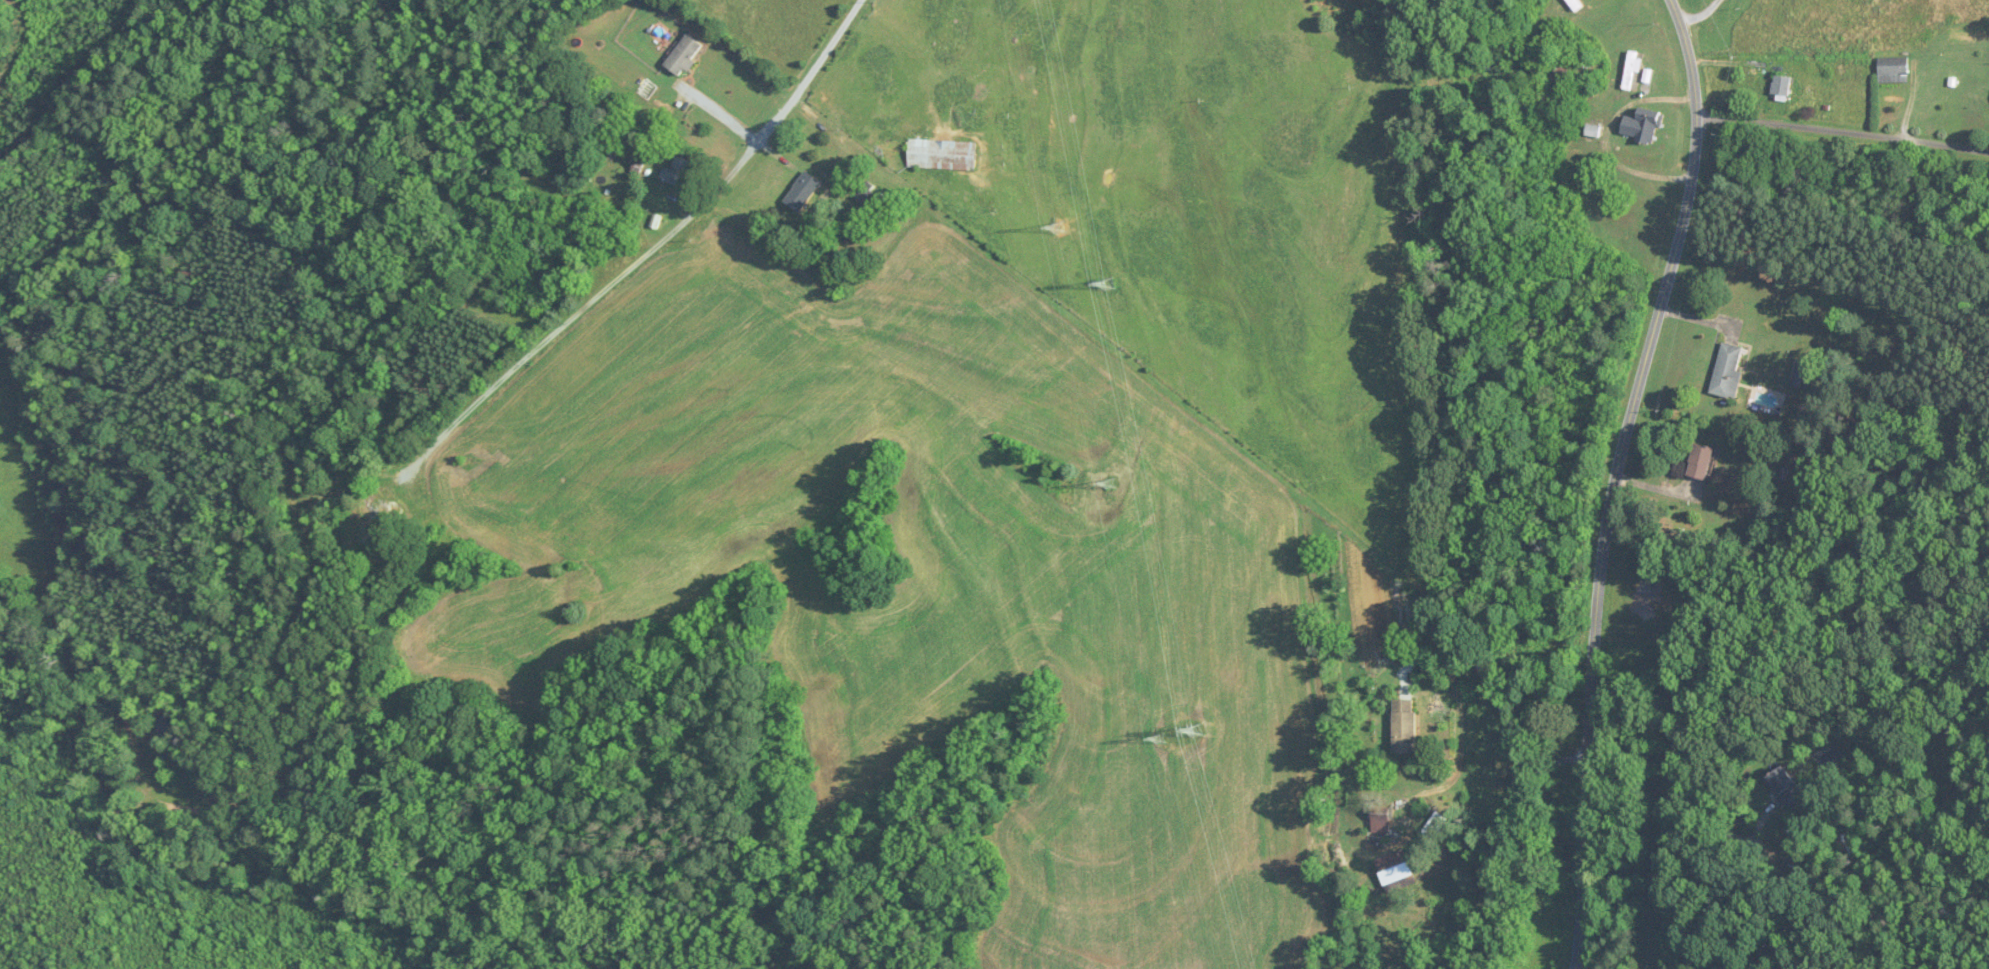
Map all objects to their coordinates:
building: (1573, 5)
road: (1697, 10)
building: (1496, 53)
building: (684, 55)
building: (1631, 70)
building: (1894, 70)
building: (1557, 75)
building: (1782, 85)
road: (721, 114)
building: (1643, 126)
road: (1843, 132)
road: (1609, 133)
building: (942, 154)
building: (678, 172)
building: (803, 191)
power tower: (1062, 227)
road: (663, 244)
power tower: (1110, 282)
building: (543, 283)
building: (1728, 370)
building: (1805, 374)
road: (1634, 413)
building: (1702, 461)
building: (366, 536)
road: (1486, 672)
building: (1405, 727)
power tower: (1200, 728)
power tower: (1162, 737)
road: (1573, 757)
road: (1539, 764)
building: (1830, 765)
building: (1786, 787)
building: (1382, 823)
road: (1591, 842)
building: (1396, 869)
road: (1591, 910)

